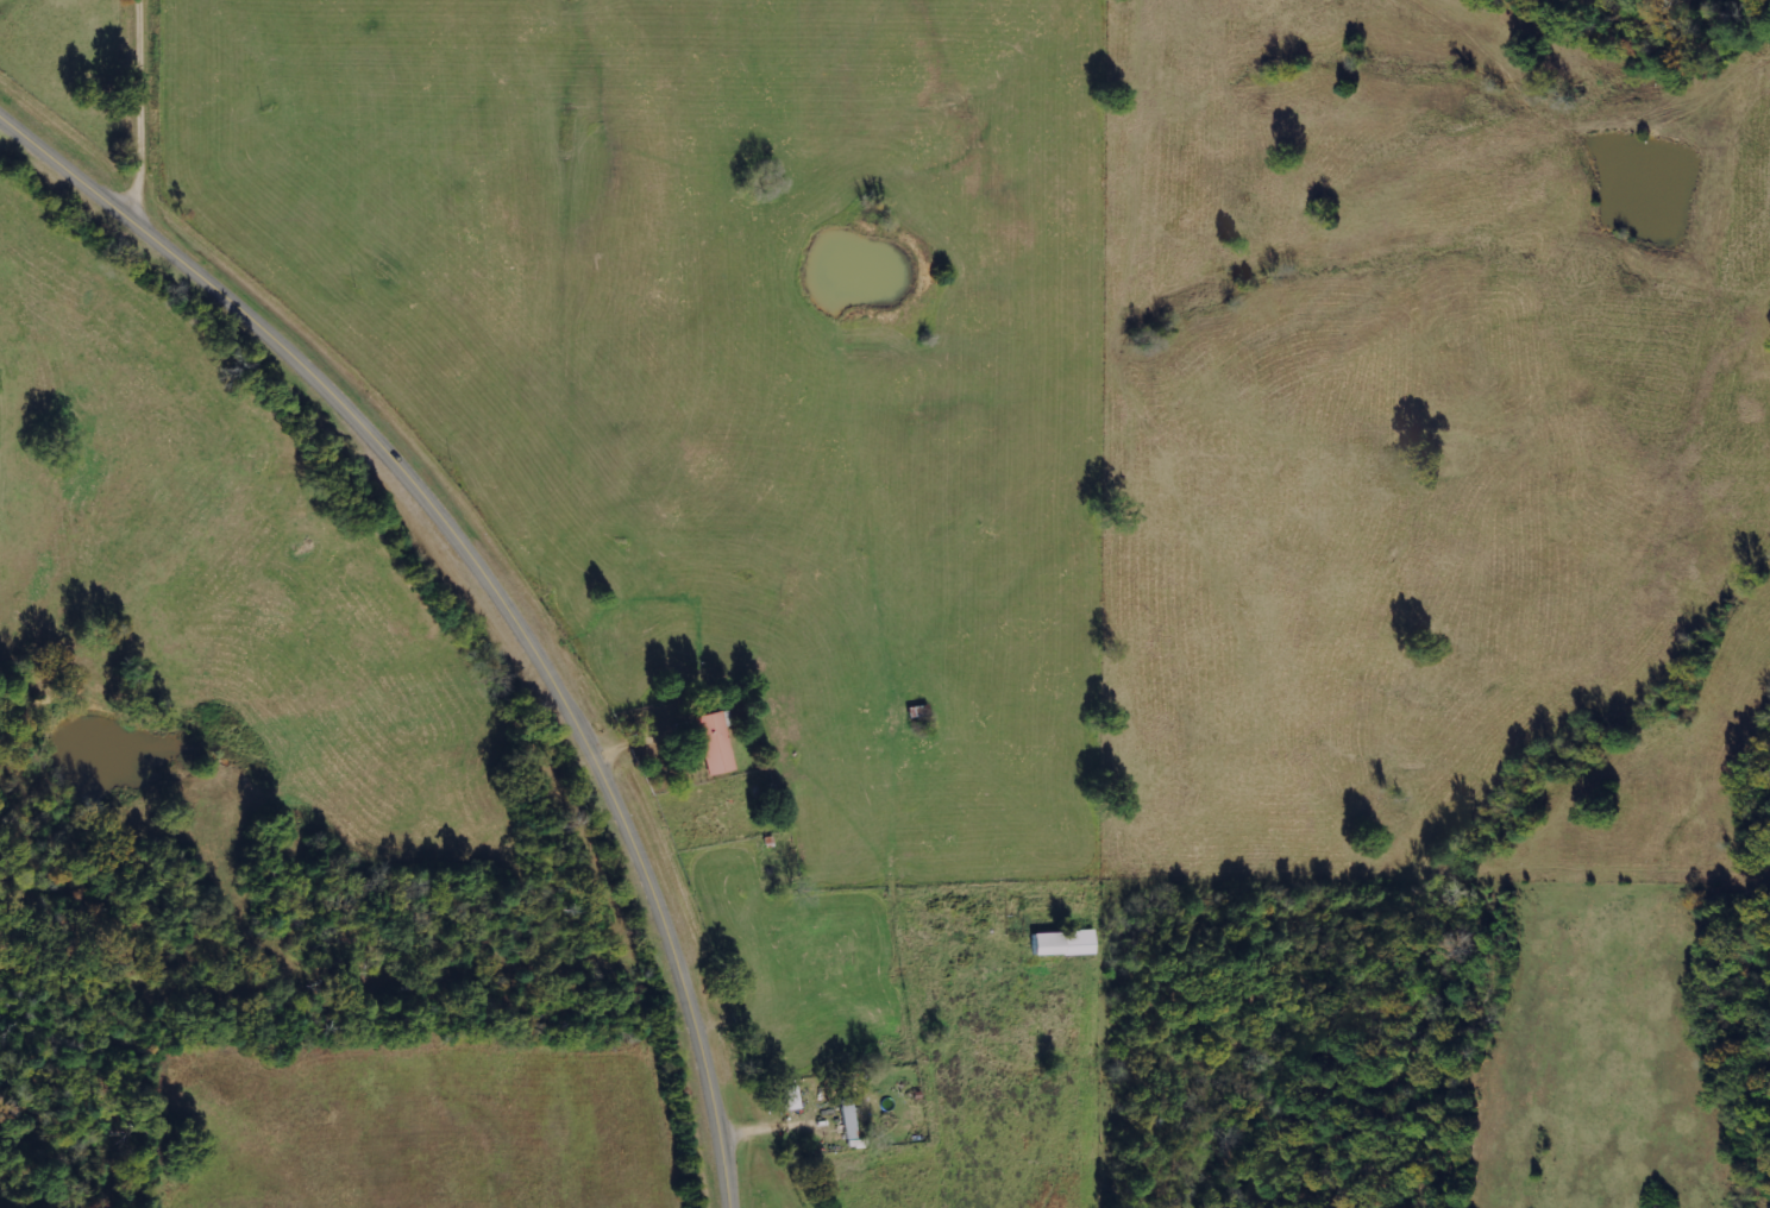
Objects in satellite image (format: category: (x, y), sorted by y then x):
road: (149, 113)
road: (487, 583)
building: (716, 741)
building: (1063, 943)
building: (790, 1097)
building: (848, 1118)

